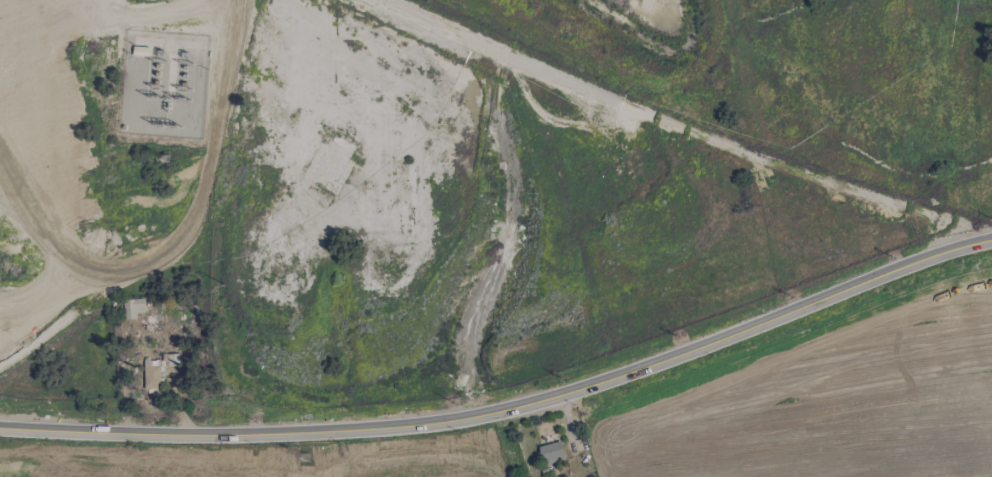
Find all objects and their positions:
power substation: (162, 85)
road: (676, 123)
quarry: (488, 164)
building: (132, 308)
building: (151, 374)
road: (178, 407)
road: (509, 408)
building: (550, 453)

